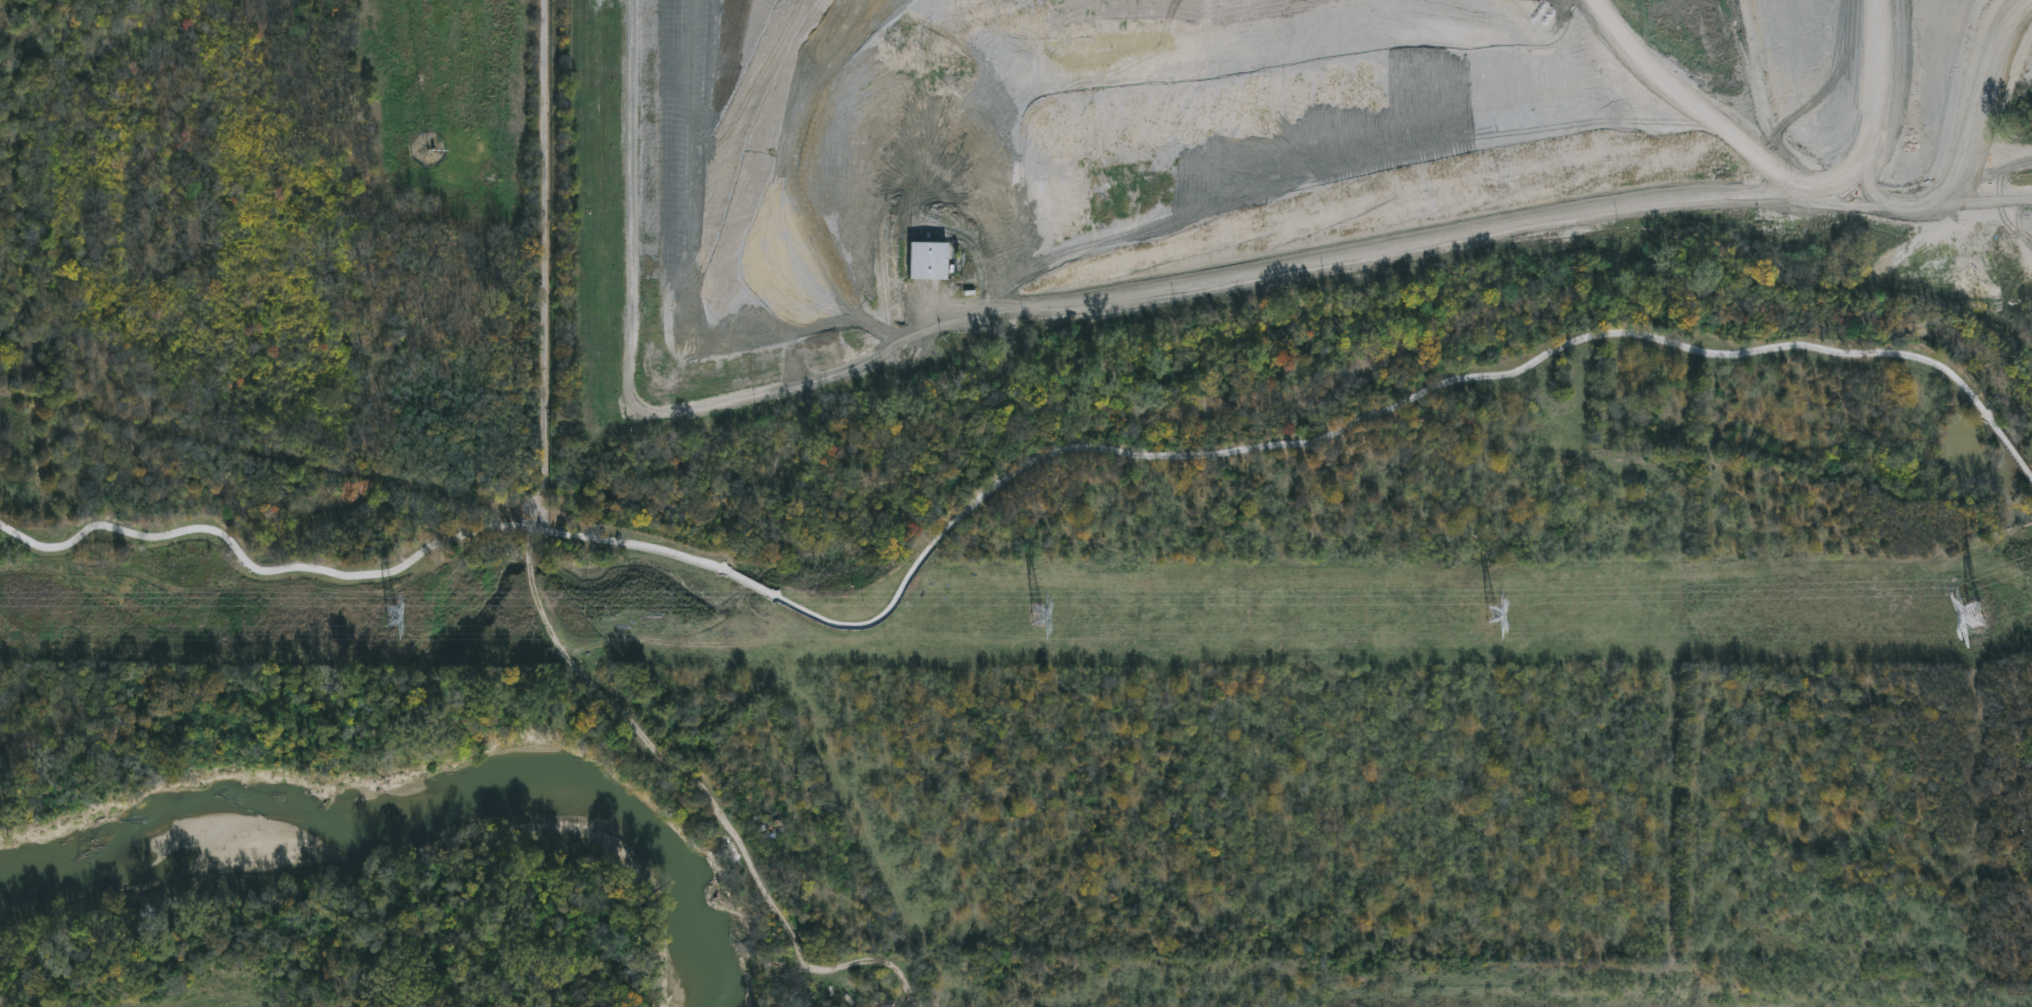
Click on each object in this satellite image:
landfill: (1186, 160)
building: (927, 263)
road: (630, 361)
road: (999, 483)
road: (540, 591)
power tower: (1977, 612)
power tower: (386, 614)
power tower: (1494, 614)
power tower: (1037, 616)
river: (415, 815)
building: (771, 832)

